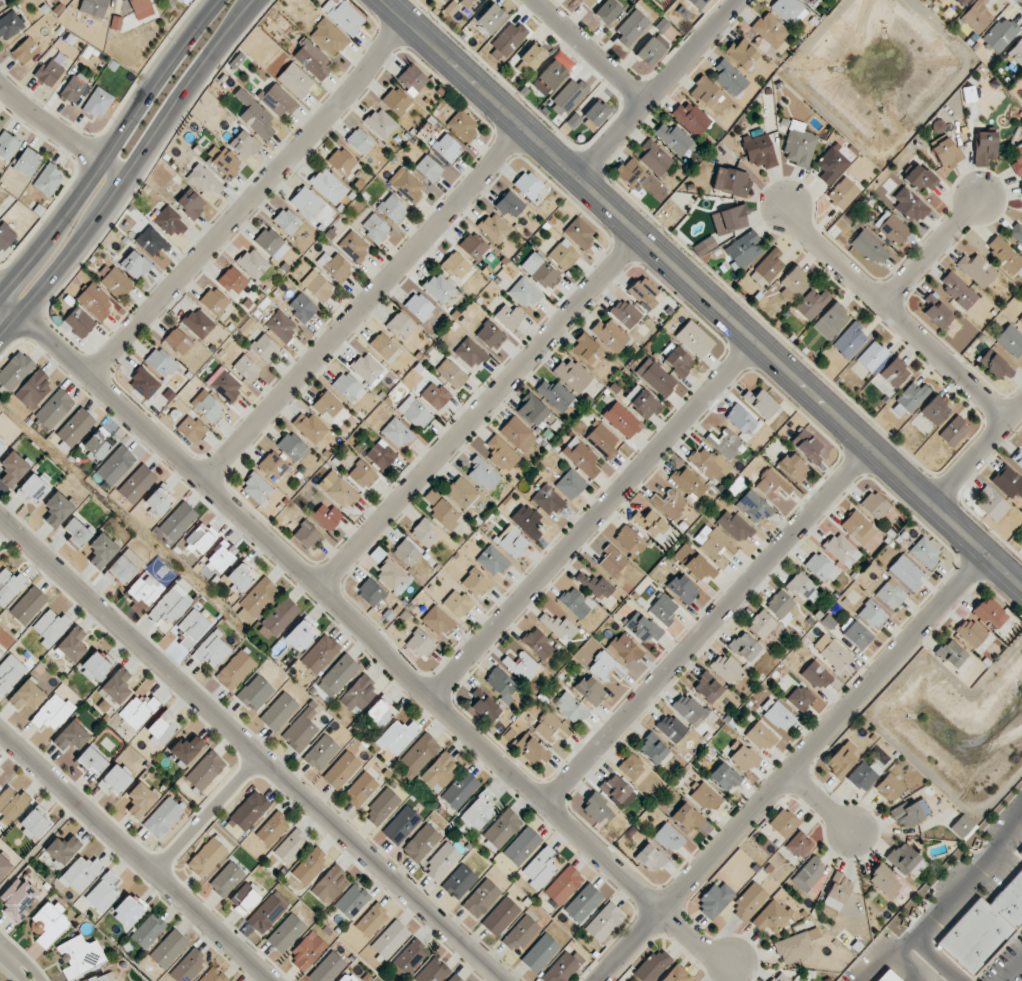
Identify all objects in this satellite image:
building: (173, 0)
building: (444, 0)
building: (804, 0)
building: (587, 2)
building: (961, 2)
building: (1, 3)
building: (698, 3)
building: (470, 4)
building: (94, 7)
building: (141, 8)
building: (607, 11)
building: (789, 11)
building: (343, 15)
building: (977, 16)
building: (491, 18)
building: (10, 25)
building: (631, 27)
building: (770, 30)
building: (1000, 34)
building: (329, 37)
building: (508, 38)
building: (25, 50)
road: (587, 51)
building: (649, 51)
building: (742, 53)
building: (1016, 53)
building: (533, 55)
building: (312, 59)
building: (49, 73)
building: (549, 77)
building: (729, 78)
building: (412, 79)
building: (295, 80)
road: (654, 88)
building: (73, 89)
building: (706, 93)
building: (968, 94)
building: (568, 96)
building: (277, 100)
building: (396, 101)
building: (98, 102)
building: (596, 113)
building: (255, 115)
building: (691, 117)
building: (574, 121)
building: (380, 123)
building: (462, 126)
road: (60, 132)
building: (672, 137)
building: (360, 141)
building: (244, 144)
building: (8, 145)
building: (799, 145)
road: (111, 146)
building: (985, 147)
building: (447, 148)
building: (759, 151)
building: (947, 153)
building: (655, 158)
building: (1017, 158)
building: (341, 161)
building: (27, 162)
building: (227, 163)
building: (831, 165)
road: (129, 169)
building: (429, 169)
building: (630, 173)
building: (919, 178)
building: (48, 180)
building: (205, 180)
building: (731, 181)
building: (528, 185)
building: (328, 186)
building: (408, 186)
building: (842, 193)
road: (245, 199)
building: (190, 203)
building: (306, 203)
building: (510, 204)
building: (909, 205)
building: (393, 208)
building: (729, 219)
building: (287, 221)
building: (170, 222)
building: (375, 227)
building: (892, 227)
building: (494, 228)
building: (1016, 232)
building: (580, 234)
building: (5, 236)
building: (151, 241)
building: (271, 243)
building: (353, 246)
building: (473, 246)
building: (704, 246)
building: (869, 248)
building: (744, 249)
road: (932, 252)
building: (1004, 254)
building: (563, 255)
building: (253, 263)
building: (135, 264)
building: (455, 265)
building: (336, 266)
building: (767, 268)
building: (976, 269)
building: (541, 271)
building: (232, 280)
building: (114, 281)
building: (793, 284)
building: (317, 286)
building: (439, 288)
building: (958, 290)
building: (644, 292)
building: (524, 293)
road: (701, 294)
building: (95, 301)
building: (214, 301)
road: (9, 303)
building: (811, 304)
road: (361, 306)
building: (419, 306)
building: (302, 308)
building: (937, 312)
building: (625, 313)
building: (509, 316)
road: (898, 317)
building: (1020, 320)
building: (79, 321)
building: (831, 321)
building: (198, 323)
building: (400, 325)
building: (281, 326)
building: (490, 335)
building: (610, 335)
building: (694, 339)
building: (850, 340)
building: (1010, 340)
building: (178, 341)
building: (383, 346)
building: (264, 348)
building: (587, 351)
building: (470, 353)
building: (871, 356)
building: (678, 361)
building: (161, 363)
building: (995, 364)
building: (247, 368)
building: (367, 368)
building: (15, 370)
building: (894, 372)
building: (451, 373)
building: (572, 374)
building: (655, 377)
building: (143, 383)
building: (225, 385)
building: (346, 386)
building: (33, 389)
building: (435, 395)
building: (556, 395)
building: (909, 399)
building: (642, 402)
building: (761, 403)
building: (327, 404)
building: (210, 408)
building: (54, 409)
building: (532, 410)
building: (935, 410)
building: (414, 412)
road: (476, 414)
building: (622, 419)
building: (740, 419)
building: (75, 427)
building: (310, 427)
building: (191, 429)
building: (953, 431)
building: (396, 432)
building: (517, 433)
building: (602, 441)
building: (725, 443)
building: (97, 444)
building: (808, 446)
building: (2, 447)
building: (293, 447)
building: (502, 453)
road: (974, 454)
building: (380, 456)
building: (581, 457)
building: (1018, 457)
building: (709, 464)
building: (116, 465)
building: (273, 465)
building: (793, 467)
building: (12, 468)
building: (483, 473)
building: (362, 475)
building: (1008, 482)
building: (136, 483)
building: (688, 483)
building: (570, 484)
building: (772, 485)
building: (32, 488)
building: (257, 488)
building: (337, 489)
building: (461, 492)
building: (159, 500)
building: (547, 500)
building: (669, 503)
building: (990, 504)
building: (874, 505)
building: (753, 506)
building: (57, 509)
building: (442, 510)
building: (327, 516)
road: (591, 519)
building: (178, 521)
building: (527, 521)
building: (649, 521)
building: (734, 525)
building: (77, 531)
building: (424, 533)
building: (307, 535)
building: (200, 538)
building: (629, 541)
building: (513, 543)
building: (716, 545)
building: (101, 550)
building: (842, 550)
building: (407, 552)
building: (925, 552)
building: (221, 556)
building: (492, 560)
building: (612, 561)
building: (124, 567)
building: (699, 567)
building: (821, 568)
building: (906, 572)
building: (393, 577)
building: (476, 583)
building: (595, 585)
building: (9, 586)
building: (803, 587)
building: (145, 589)
building: (682, 589)
building: (370, 592)
building: (891, 594)
building: (256, 600)
building: (574, 602)
building: (457, 604)
building: (779, 604)
building: (28, 605)
building: (170, 607)
building: (663, 609)
building: (991, 613)
building: (872, 615)
building: (278, 619)
building: (437, 620)
building: (761, 624)
building: (50, 627)
building: (559, 627)
building: (642, 627)
road: (706, 627)
building: (192, 628)
building: (970, 632)
building: (301, 633)
building: (855, 633)
building: (72, 644)
road: (372, 644)
building: (420, 644)
building: (538, 644)
building: (744, 646)
building: (624, 649)
building: (212, 650)
building: (832, 651)
building: (1, 653)
building: (320, 653)
building: (951, 653)
building: (521, 665)
building: (96, 666)
building: (605, 666)
building: (727, 668)
building: (235, 670)
building: (10, 673)
building: (340, 673)
building: (817, 675)
building: (500, 683)
building: (117, 685)
building: (707, 687)
building: (590, 690)
building: (255, 693)
building: (359, 694)
building: (26, 695)
building: (800, 698)
building: (570, 707)
building: (689, 709)
building: (380, 710)
building: (138, 711)
building: (52, 712)
building: (279, 712)
building: (779, 716)
building: (550, 727)
building: (162, 728)
building: (671, 728)
building: (300, 730)
building: (71, 736)
building: (397, 736)
building: (760, 736)
road: (255, 747)
building: (187, 748)
building: (653, 748)
building: (531, 749)
building: (321, 752)
building: (420, 753)
building: (842, 757)
building: (743, 758)
building: (92, 759)
building: (632, 767)
road: (789, 767)
building: (205, 770)
building: (341, 770)
building: (440, 770)
building: (862, 775)
building: (724, 777)
building: (115, 779)
building: (0, 785)
building: (889, 787)
building: (615, 788)
building: (361, 789)
building: (460, 789)
building: (706, 797)
building: (140, 799)
road: (819, 800)
building: (12, 803)
building: (382, 807)
building: (596, 810)
road: (208, 811)
building: (477, 812)
building: (910, 812)
building: (246, 814)
building: (163, 817)
building: (687, 817)
building: (783, 822)
building: (34, 823)
building: (401, 825)
building: (963, 827)
building: (272, 829)
building: (501, 829)
building: (668, 838)
building: (421, 843)
building: (799, 844)
road: (40, 846)
building: (291, 846)
building: (522, 846)
building: (62, 849)
building: (1020, 852)
road: (136, 854)
building: (207, 857)
building: (650, 858)
building: (902, 858)
building: (441, 861)
building: (4, 866)
building: (310, 866)
building: (540, 868)
building: (81, 873)
building: (809, 873)
building: (226, 879)
building: (459, 881)
building: (884, 882)
building: (330, 885)
building: (564, 885)
building: (838, 892)
building: (102, 893)
building: (244, 898)
building: (481, 898)
building: (17, 899)
building: (714, 900)
building: (352, 901)
building: (748, 901)
building: (583, 903)
road: (942, 906)
building: (129, 910)
building: (268, 912)
building: (500, 916)
building: (771, 917)
building: (372, 920)
building: (604, 922)
building: (49, 923)
building: (984, 927)
building: (148, 931)
building: (286, 933)
building: (520, 934)
building: (390, 939)
building: (796, 945)
building: (168, 949)
building: (307, 950)
road: (6, 953)
building: (540, 953)
building: (79, 956)
building: (411, 956)
road: (934, 961)
building: (188, 965)
road: (908, 965)
building: (653, 966)
building: (563, 967)
building: (327, 968)
road: (26, 969)
road: (19, 970)
road: (1012, 970)
building: (433, 971)
road: (6, 973)
park: (7, 973)
building: (213, 975)
building: (676, 975)
building: (887, 976)
building: (780, 977)
building: (101, 978)
building: (345, 978)
building: (453, 978)

